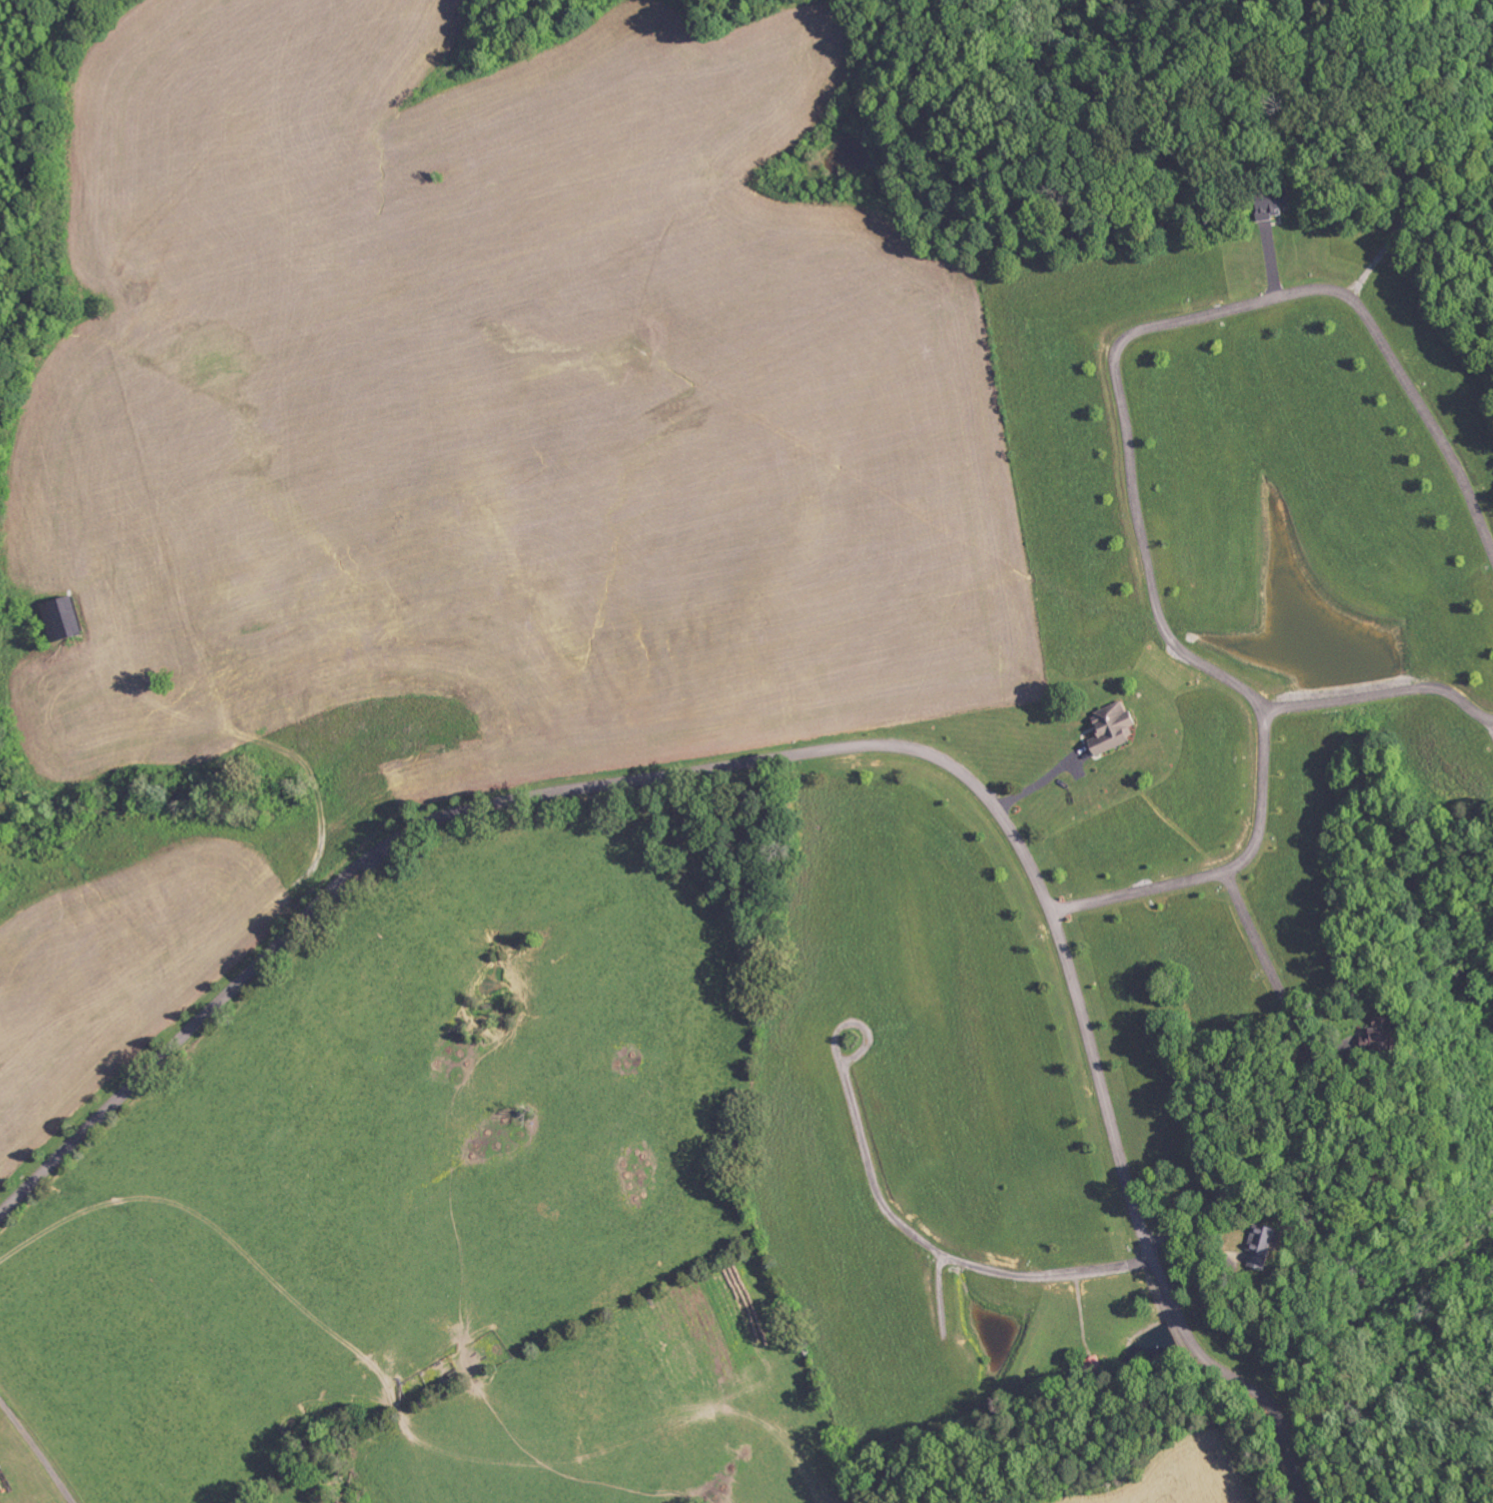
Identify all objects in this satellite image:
road: (1172, 318)
building: (66, 620)
road: (1381, 691)
building: (1116, 728)
road: (817, 749)
road: (1223, 870)
road: (1266, 962)
building: (1262, 1247)
road: (37, 1450)

